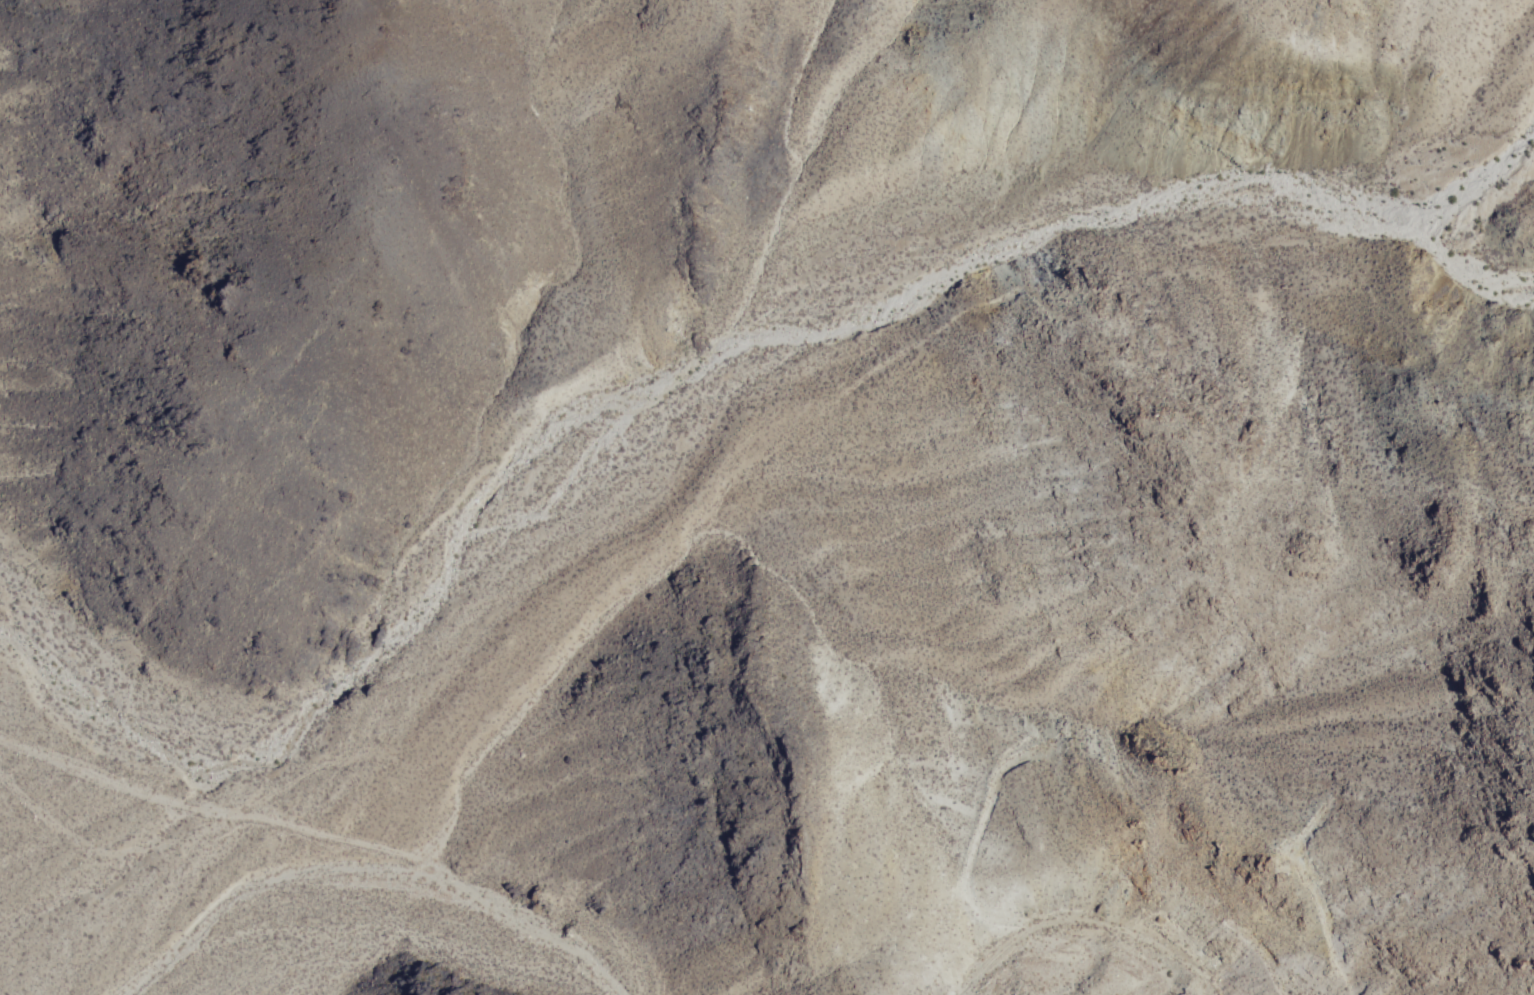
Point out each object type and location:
road: (118, 785)

